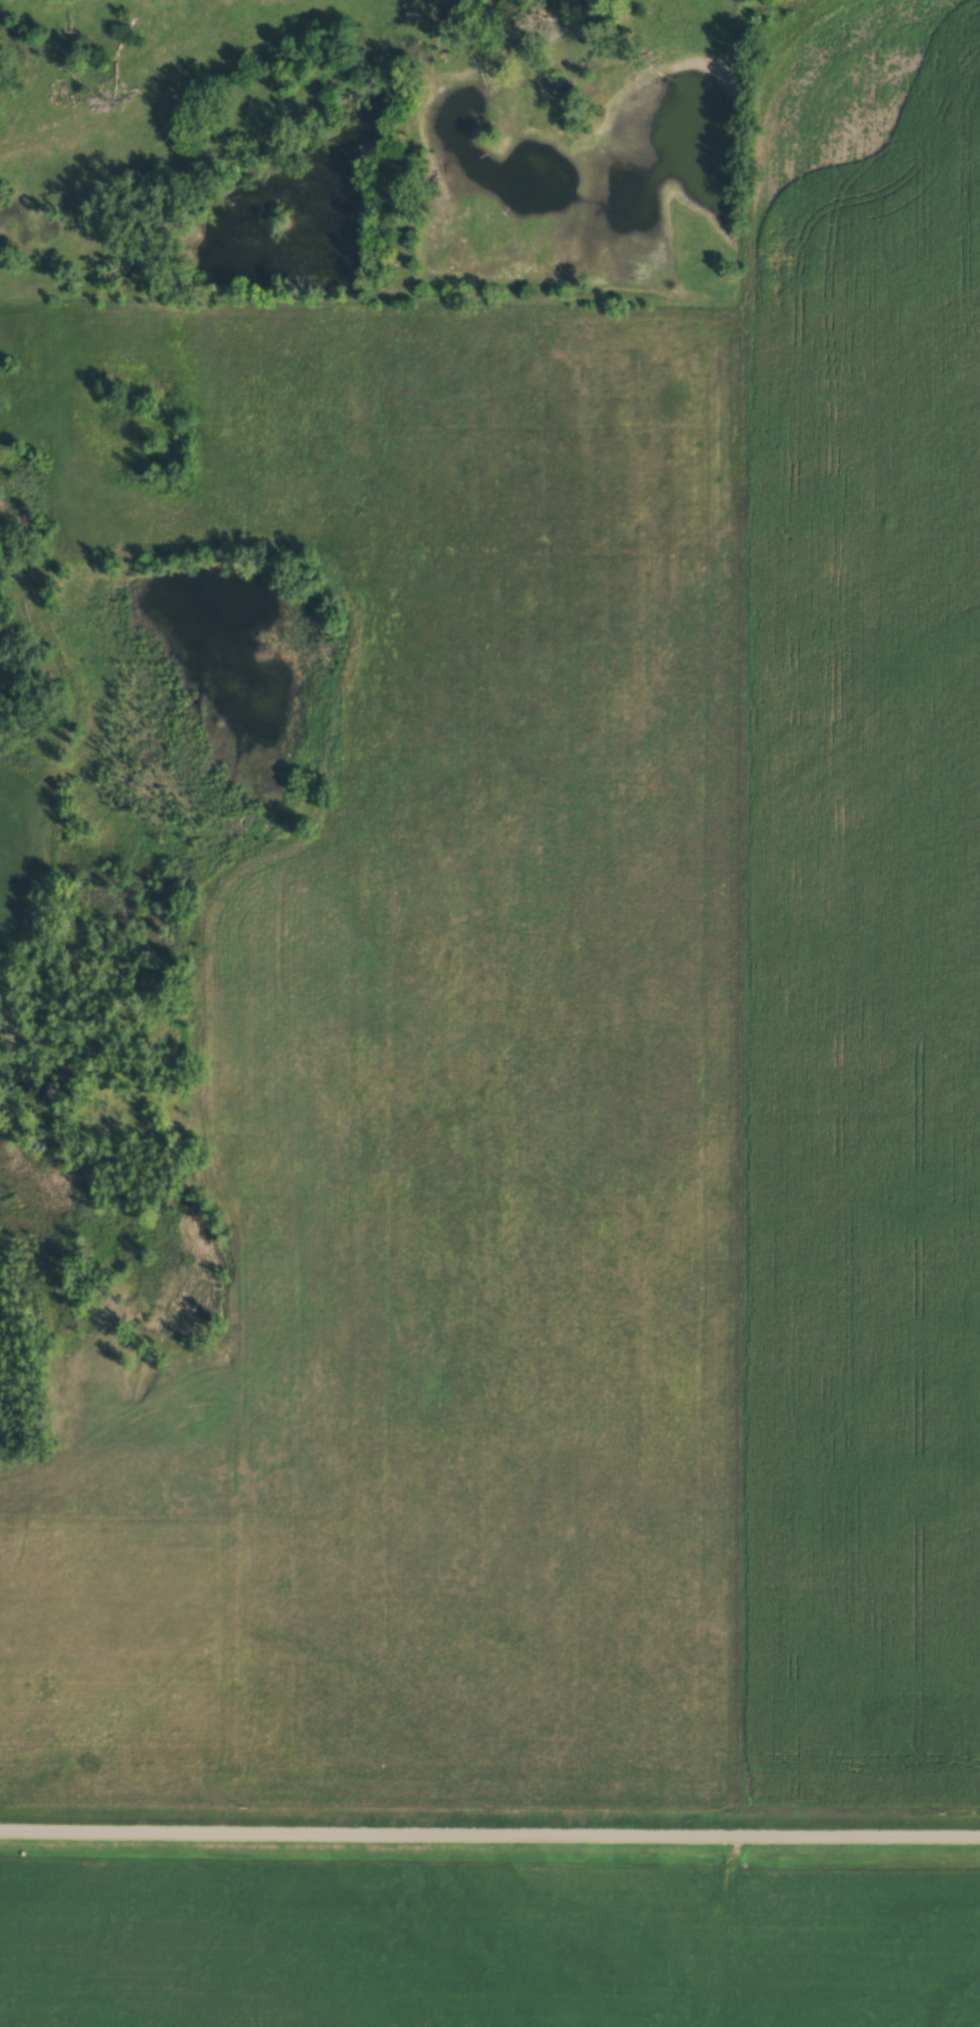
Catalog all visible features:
road: (489, 1831)

